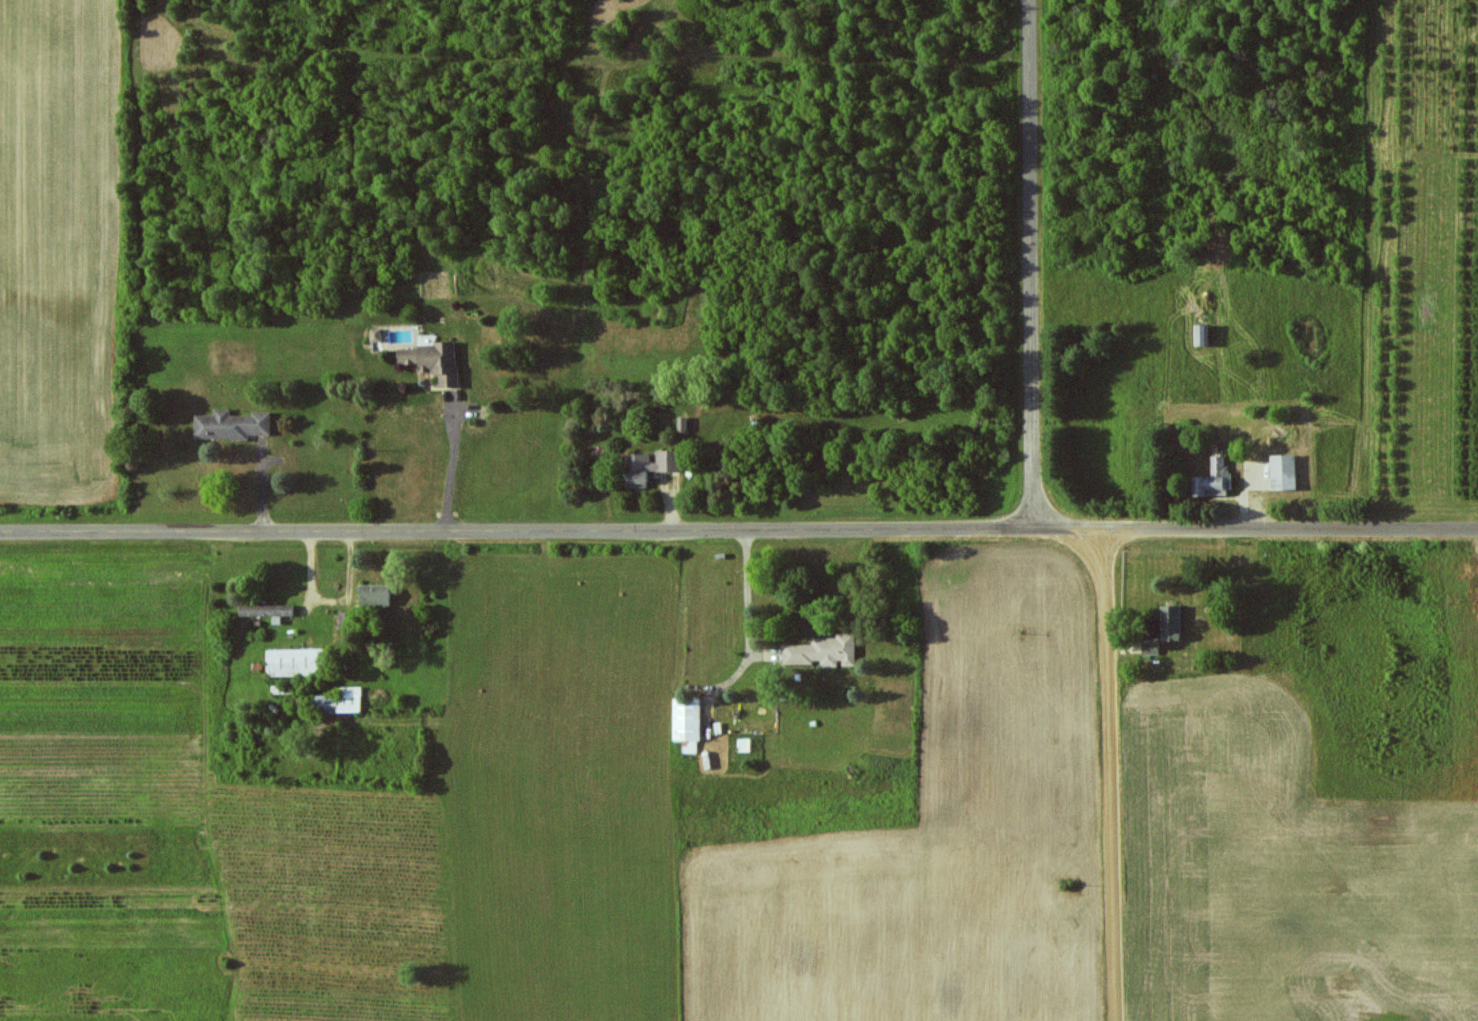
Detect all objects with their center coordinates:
road: (1034, 264)
building: (380, 337)
building: (433, 361)
building: (231, 425)
road: (451, 465)
building: (652, 466)
building: (1285, 472)
building: (1215, 478)
road: (739, 529)
road: (750, 592)
building: (376, 594)
building: (267, 611)
building: (1172, 624)
building: (1151, 647)
building: (824, 652)
building: (295, 662)
building: (340, 701)
building: (688, 724)
road: (1112, 775)

